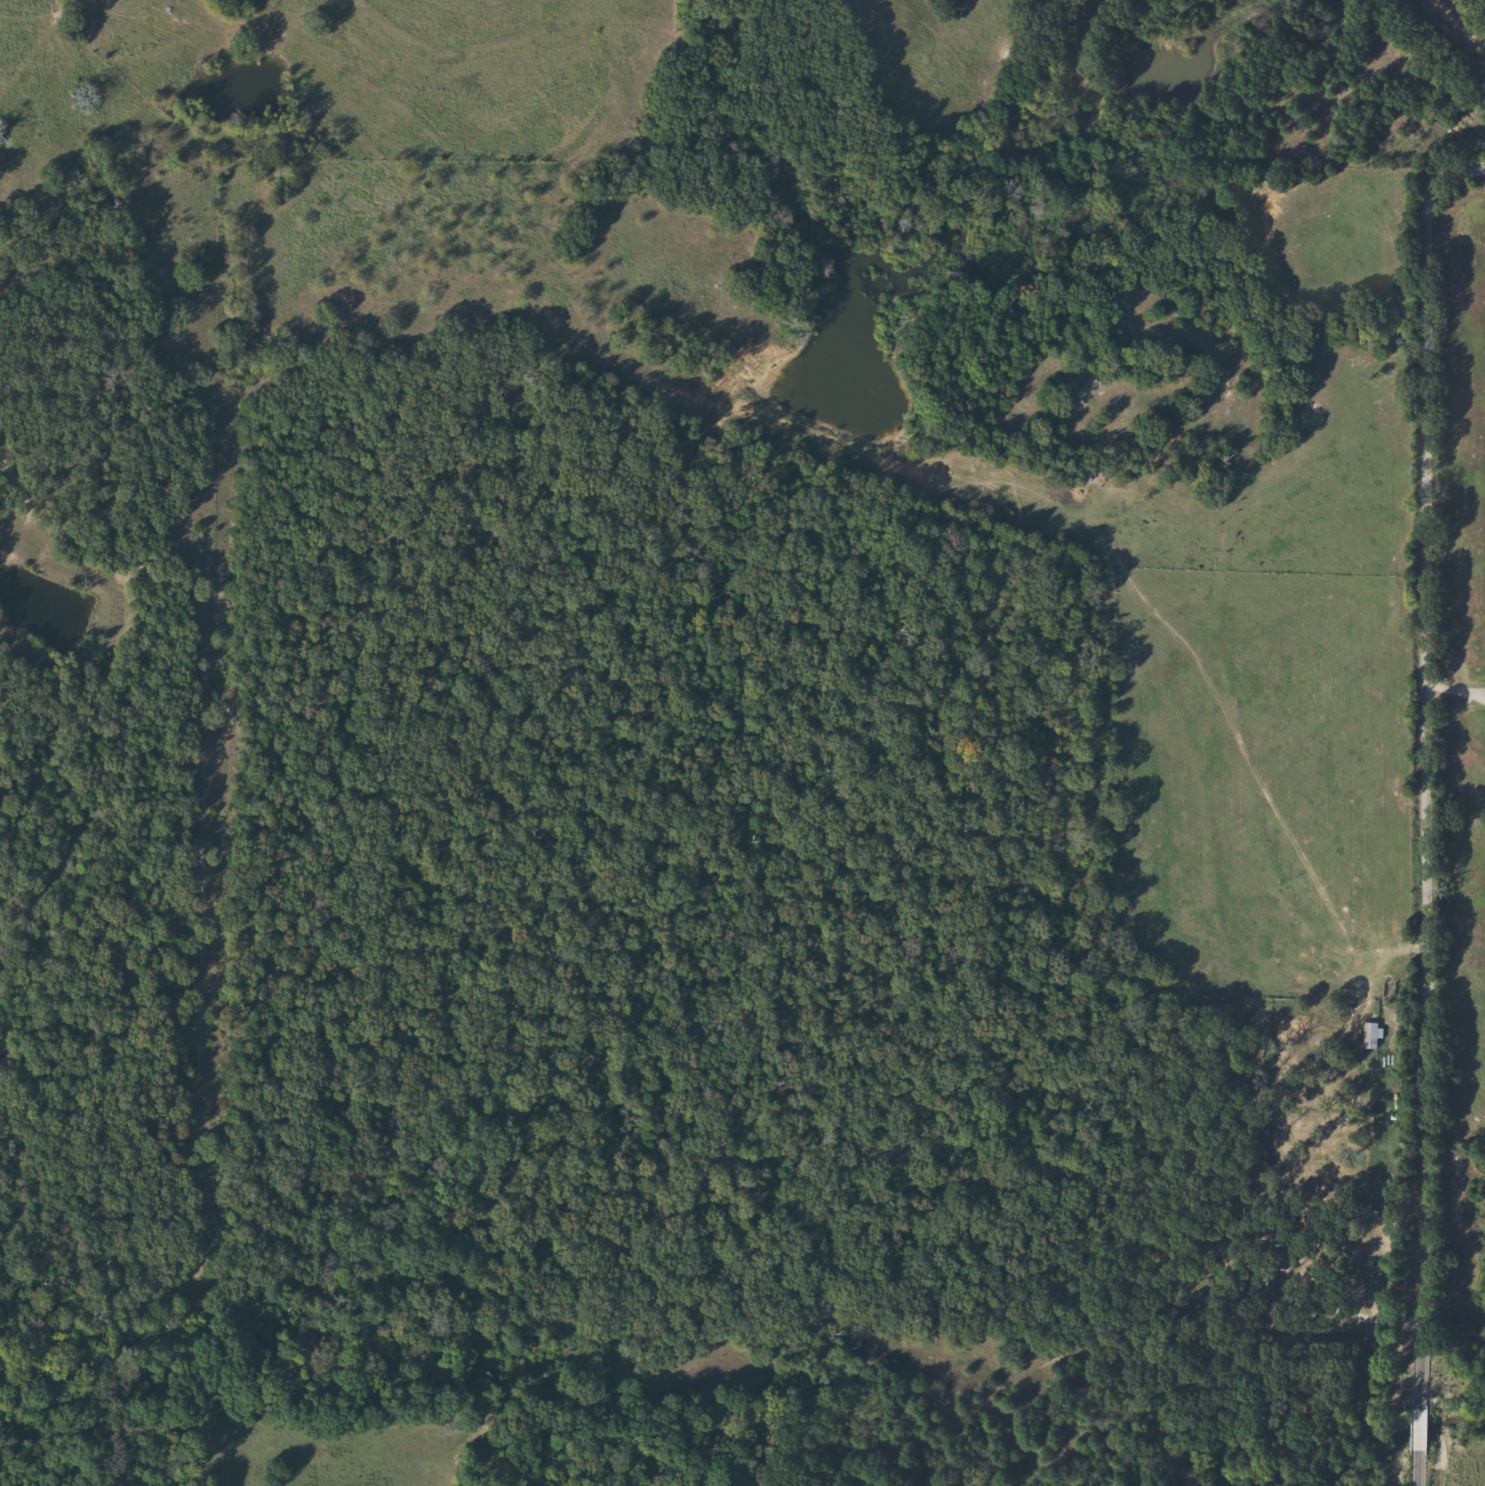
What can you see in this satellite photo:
road: (1457, 685)
road: (1481, 690)
road: (1427, 805)
building: (1364, 1035)
road: (1297, 1308)

